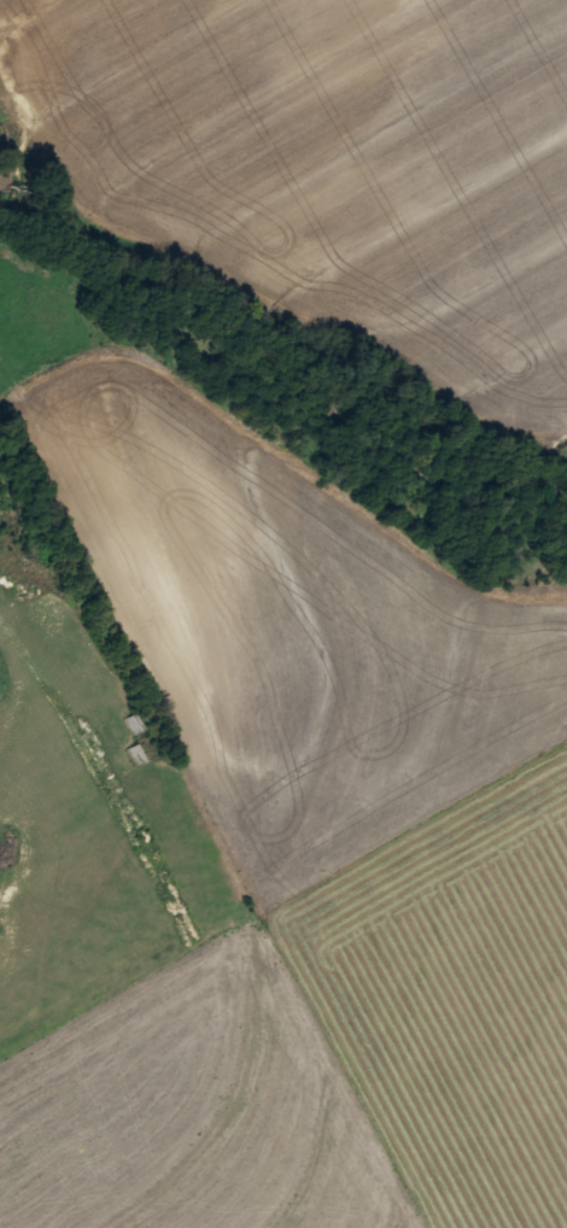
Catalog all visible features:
crop: (329, 162)
crop: (305, 862)

